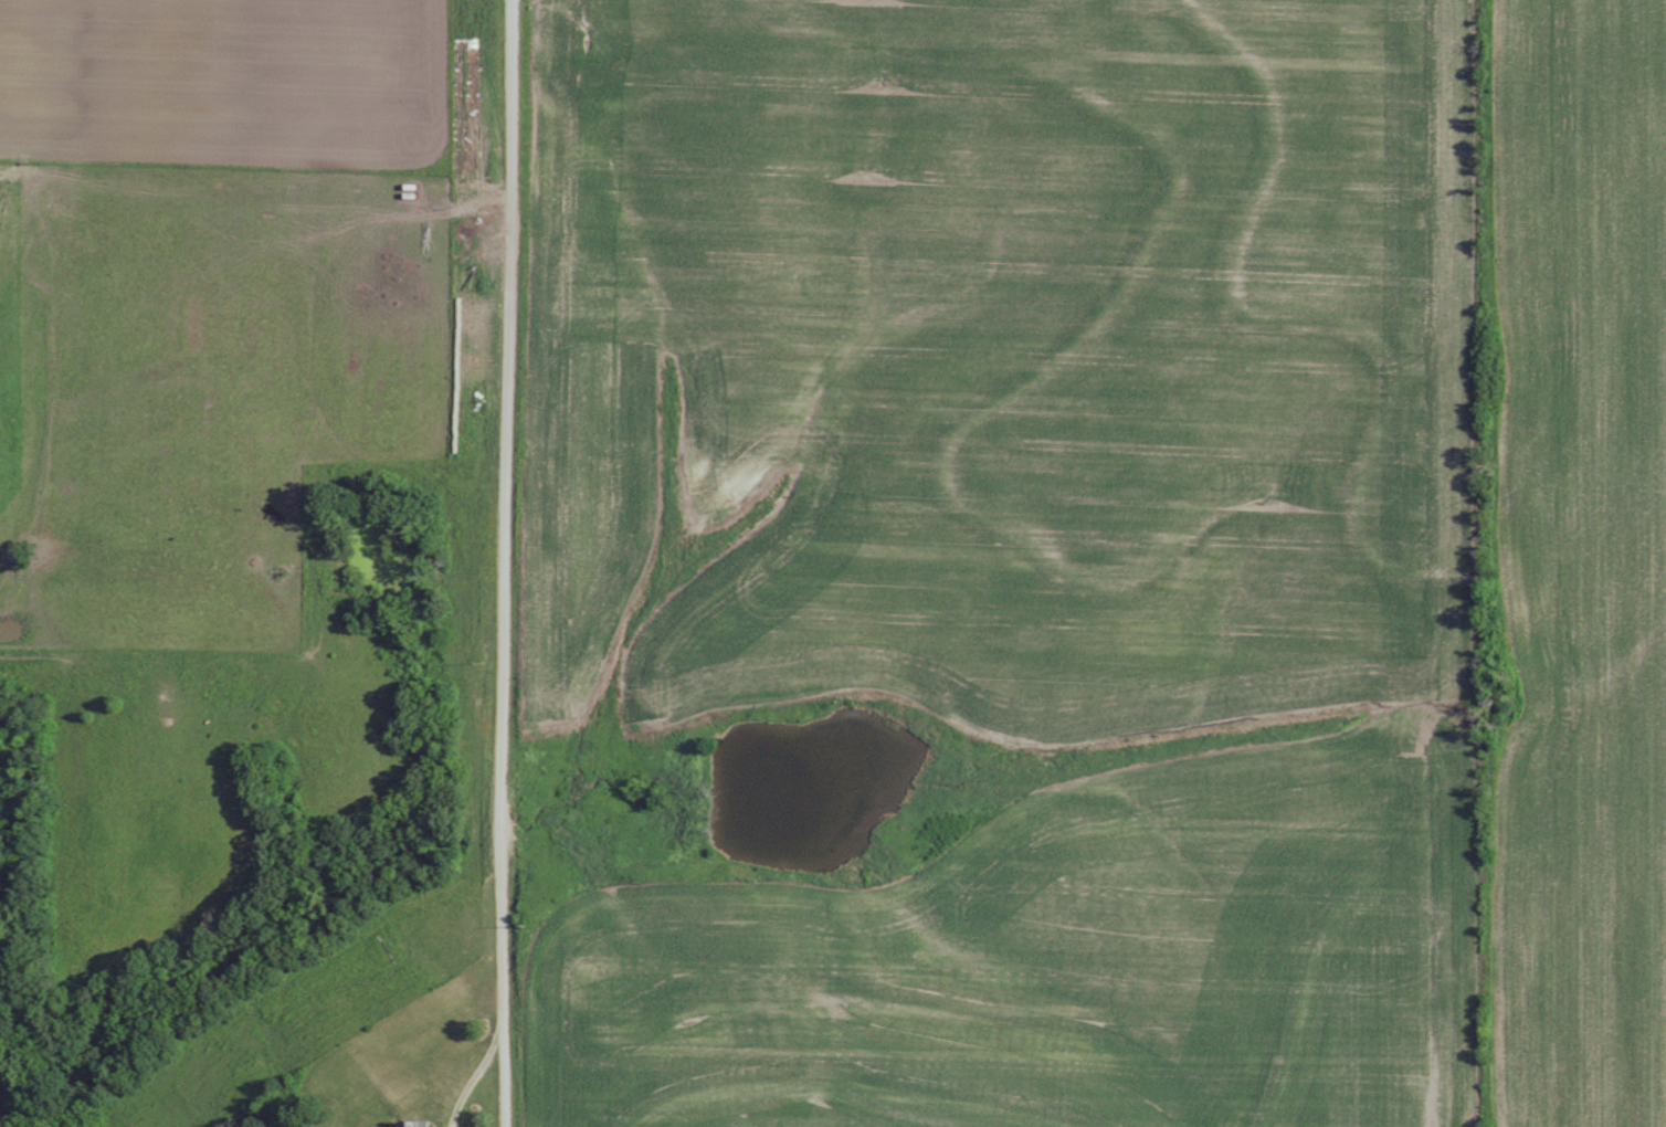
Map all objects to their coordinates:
road: (504, 562)
building: (419, 1123)

